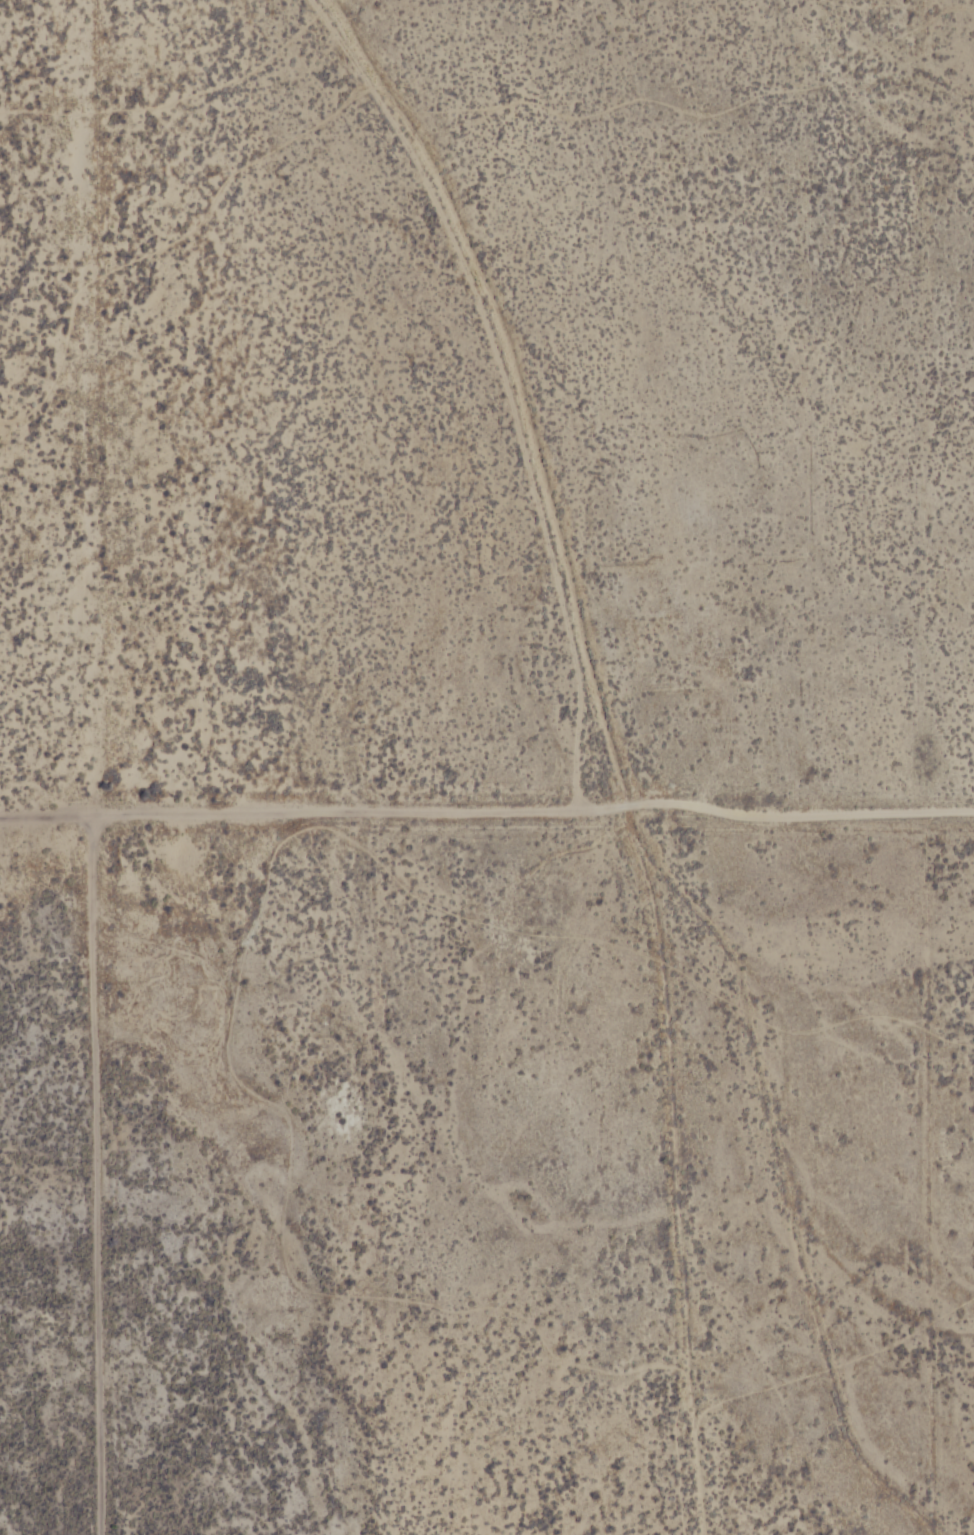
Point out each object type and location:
road: (512, 382)
road: (486, 809)
road: (104, 1174)

